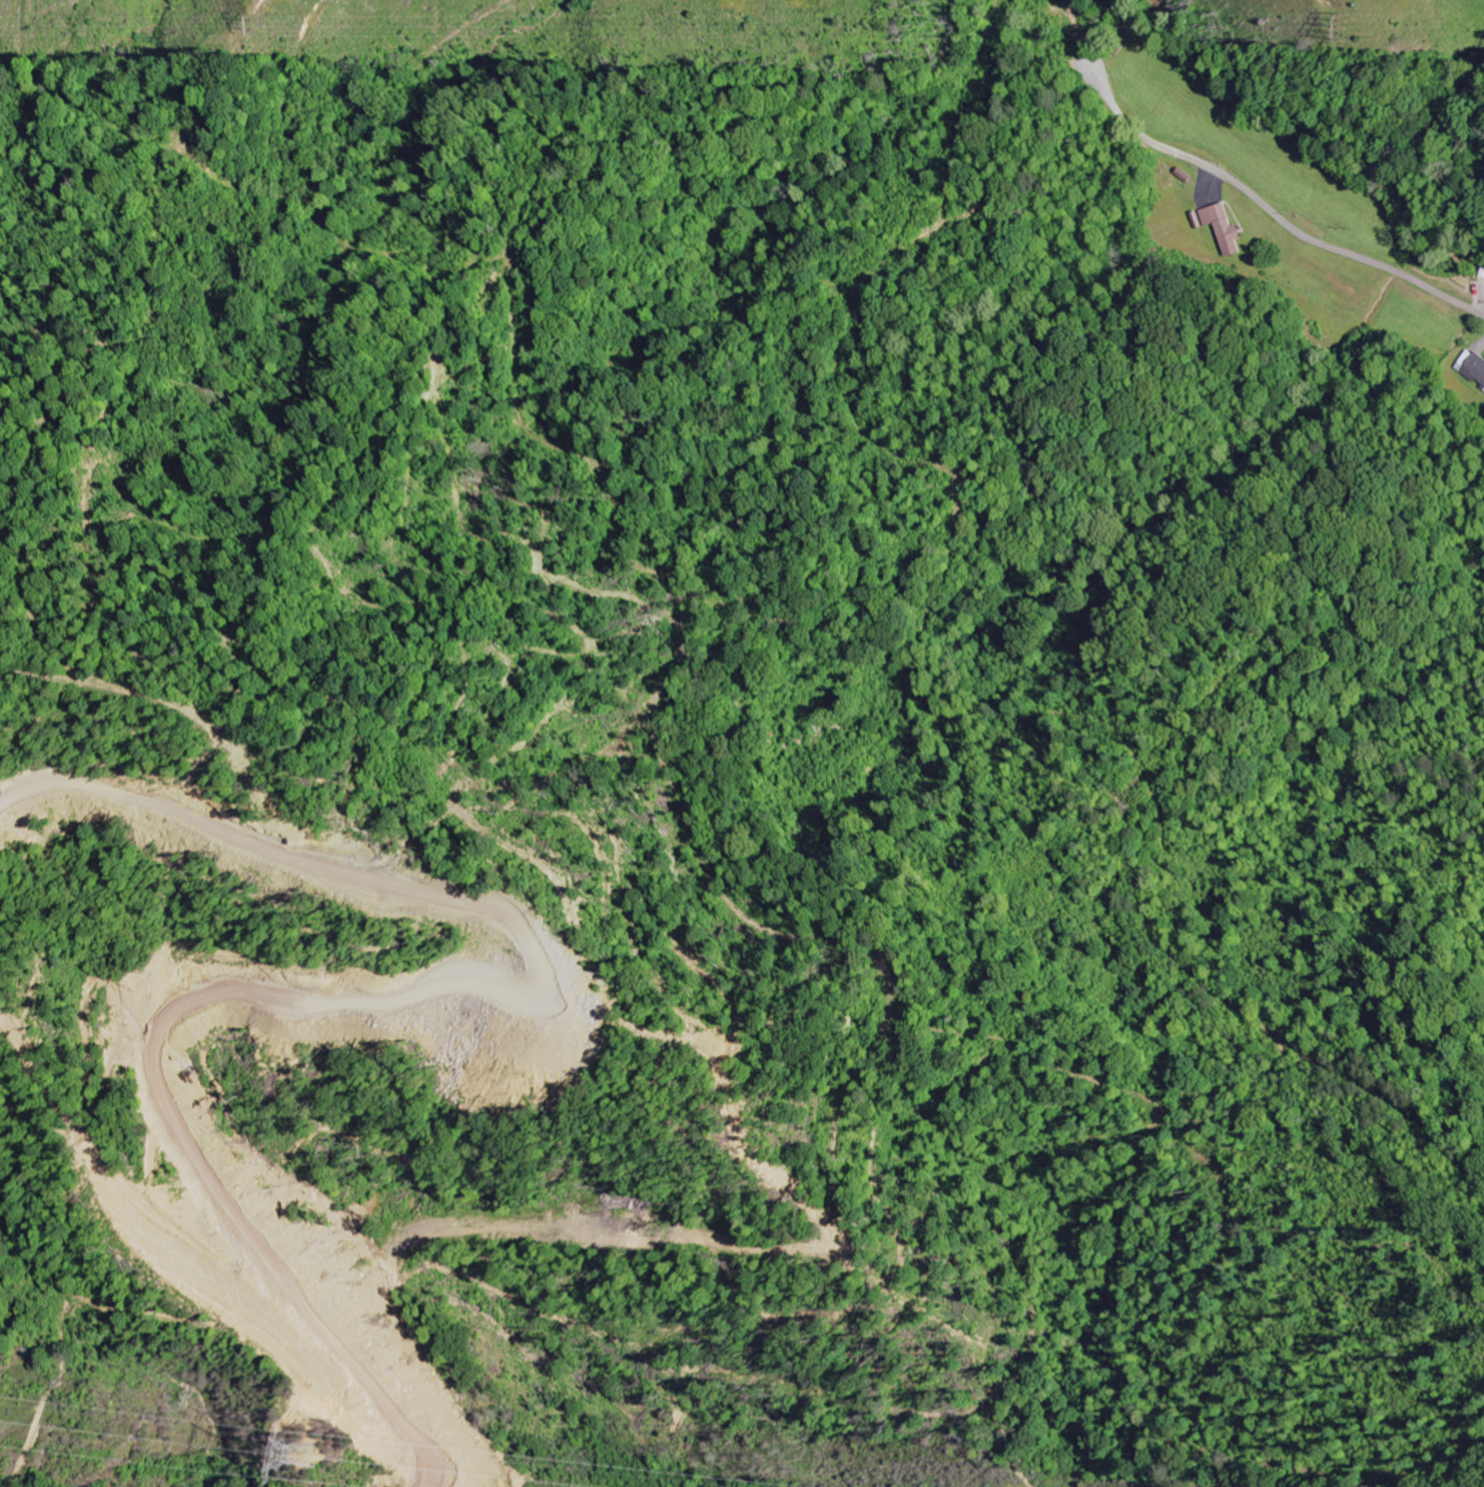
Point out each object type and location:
road: (1289, 226)
building: (1221, 228)
building: (1473, 366)
power tower: (282, 1445)

